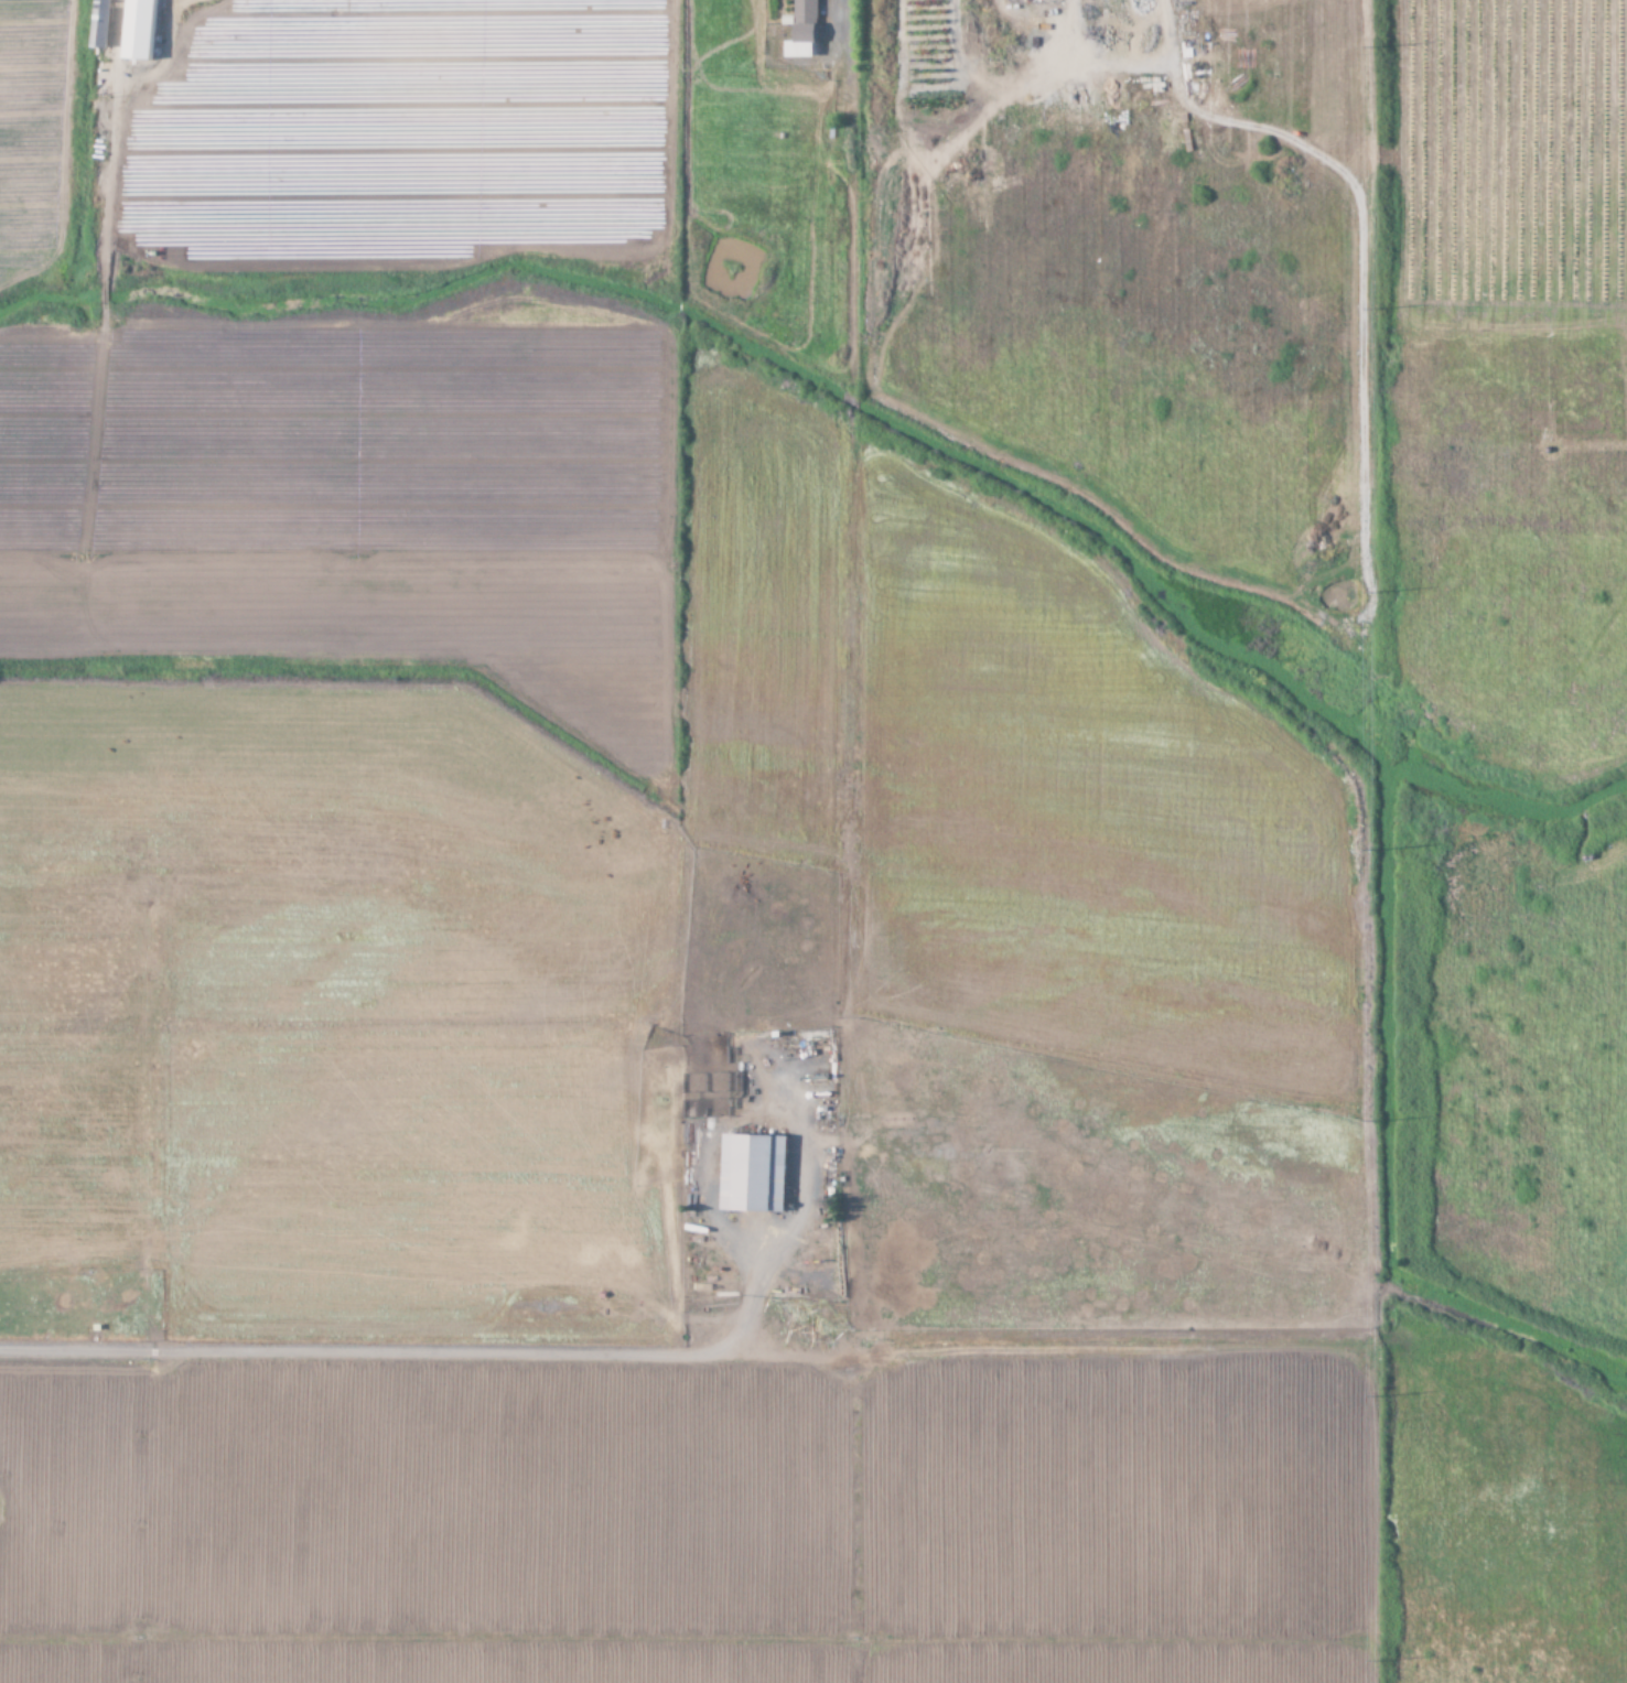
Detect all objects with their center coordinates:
building: (105, 24)
building: (807, 30)
crop: (336, 672)
crop: (1043, 1045)
building: (757, 1173)
road: (417, 1359)

